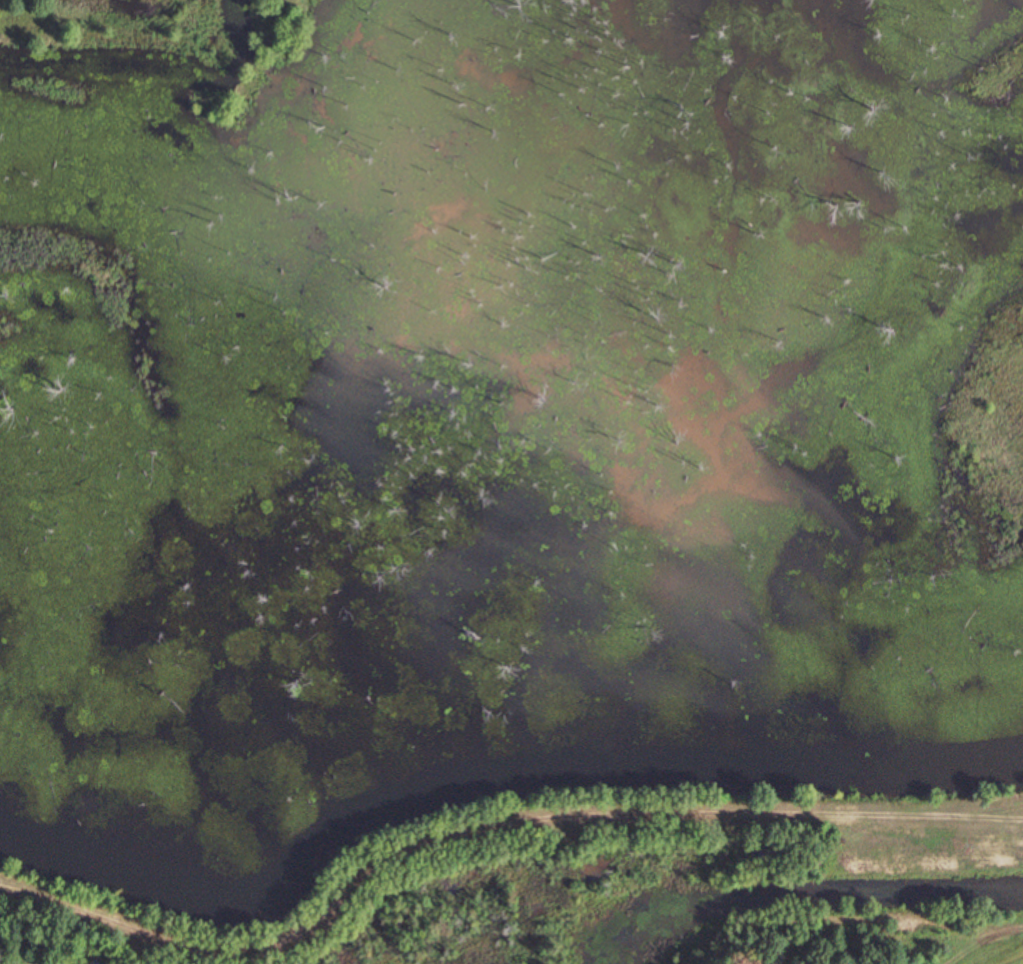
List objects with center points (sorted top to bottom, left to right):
crop: (989, 945)

